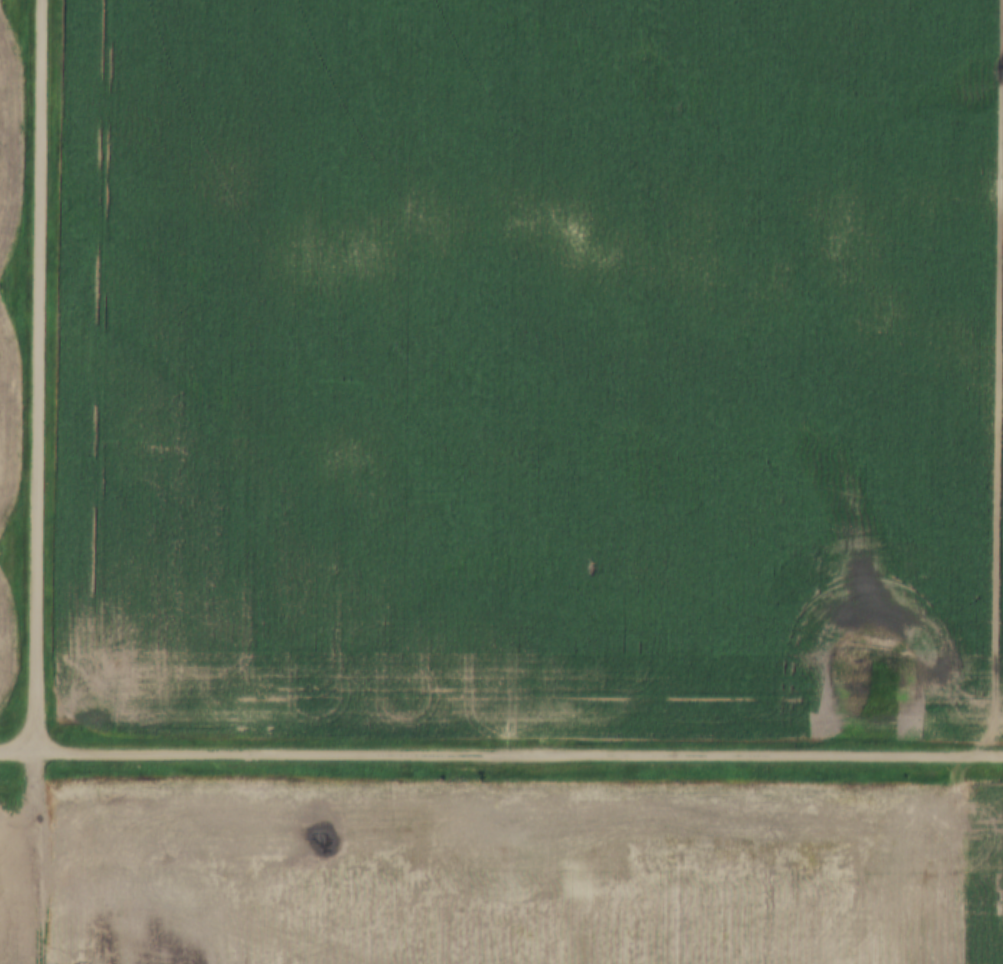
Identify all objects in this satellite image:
road: (28, 373)
road: (11, 751)
road: (512, 754)
crop: (978, 876)

